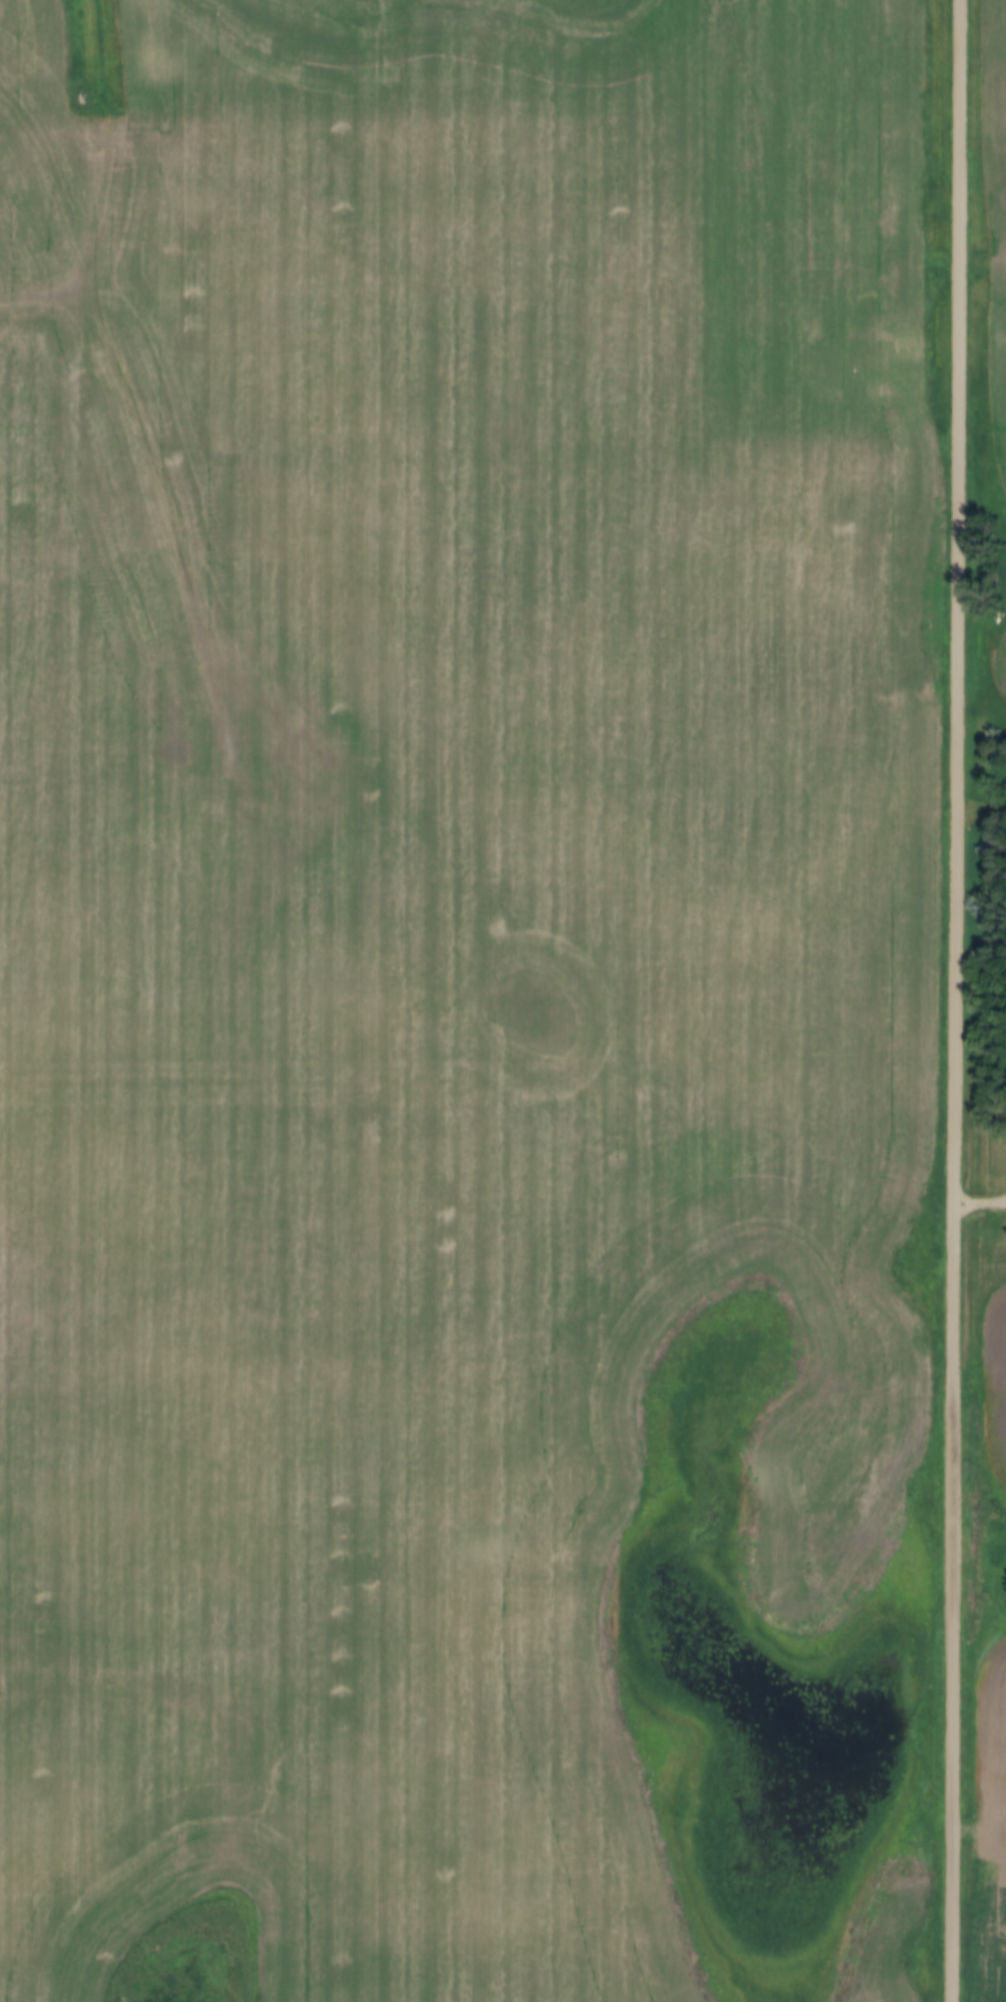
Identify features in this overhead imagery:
road: (956, 1001)
road: (980, 1204)

